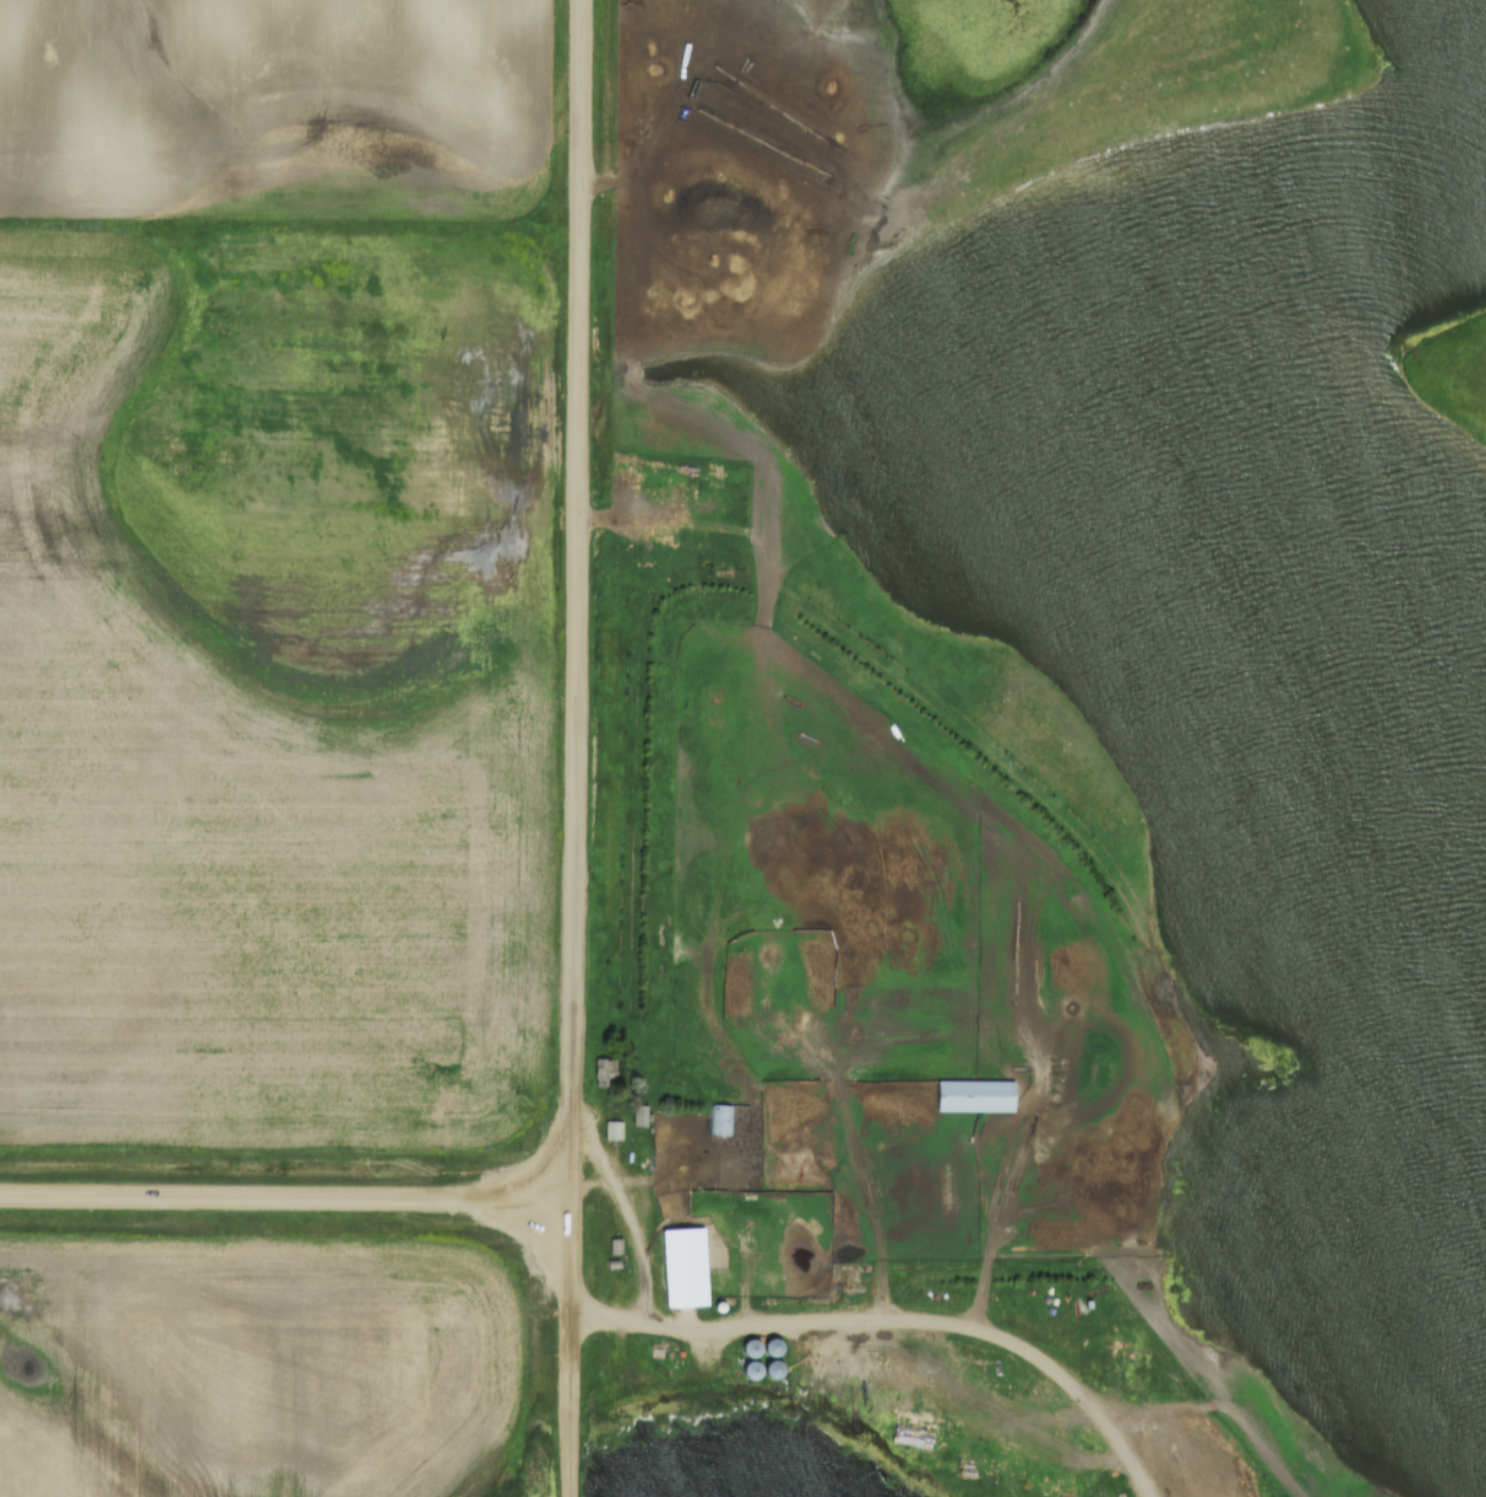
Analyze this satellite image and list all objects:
road: (576, 748)
building: (605, 1069)
building: (973, 1097)
building: (722, 1121)
building: (612, 1131)
road: (287, 1196)
road: (632, 1233)
building: (612, 1241)
building: (682, 1253)
building: (699, 1307)
building: (401, 1319)
building: (225, 1321)
building: (748, 1349)
building: (770, 1349)
building: (749, 1369)

